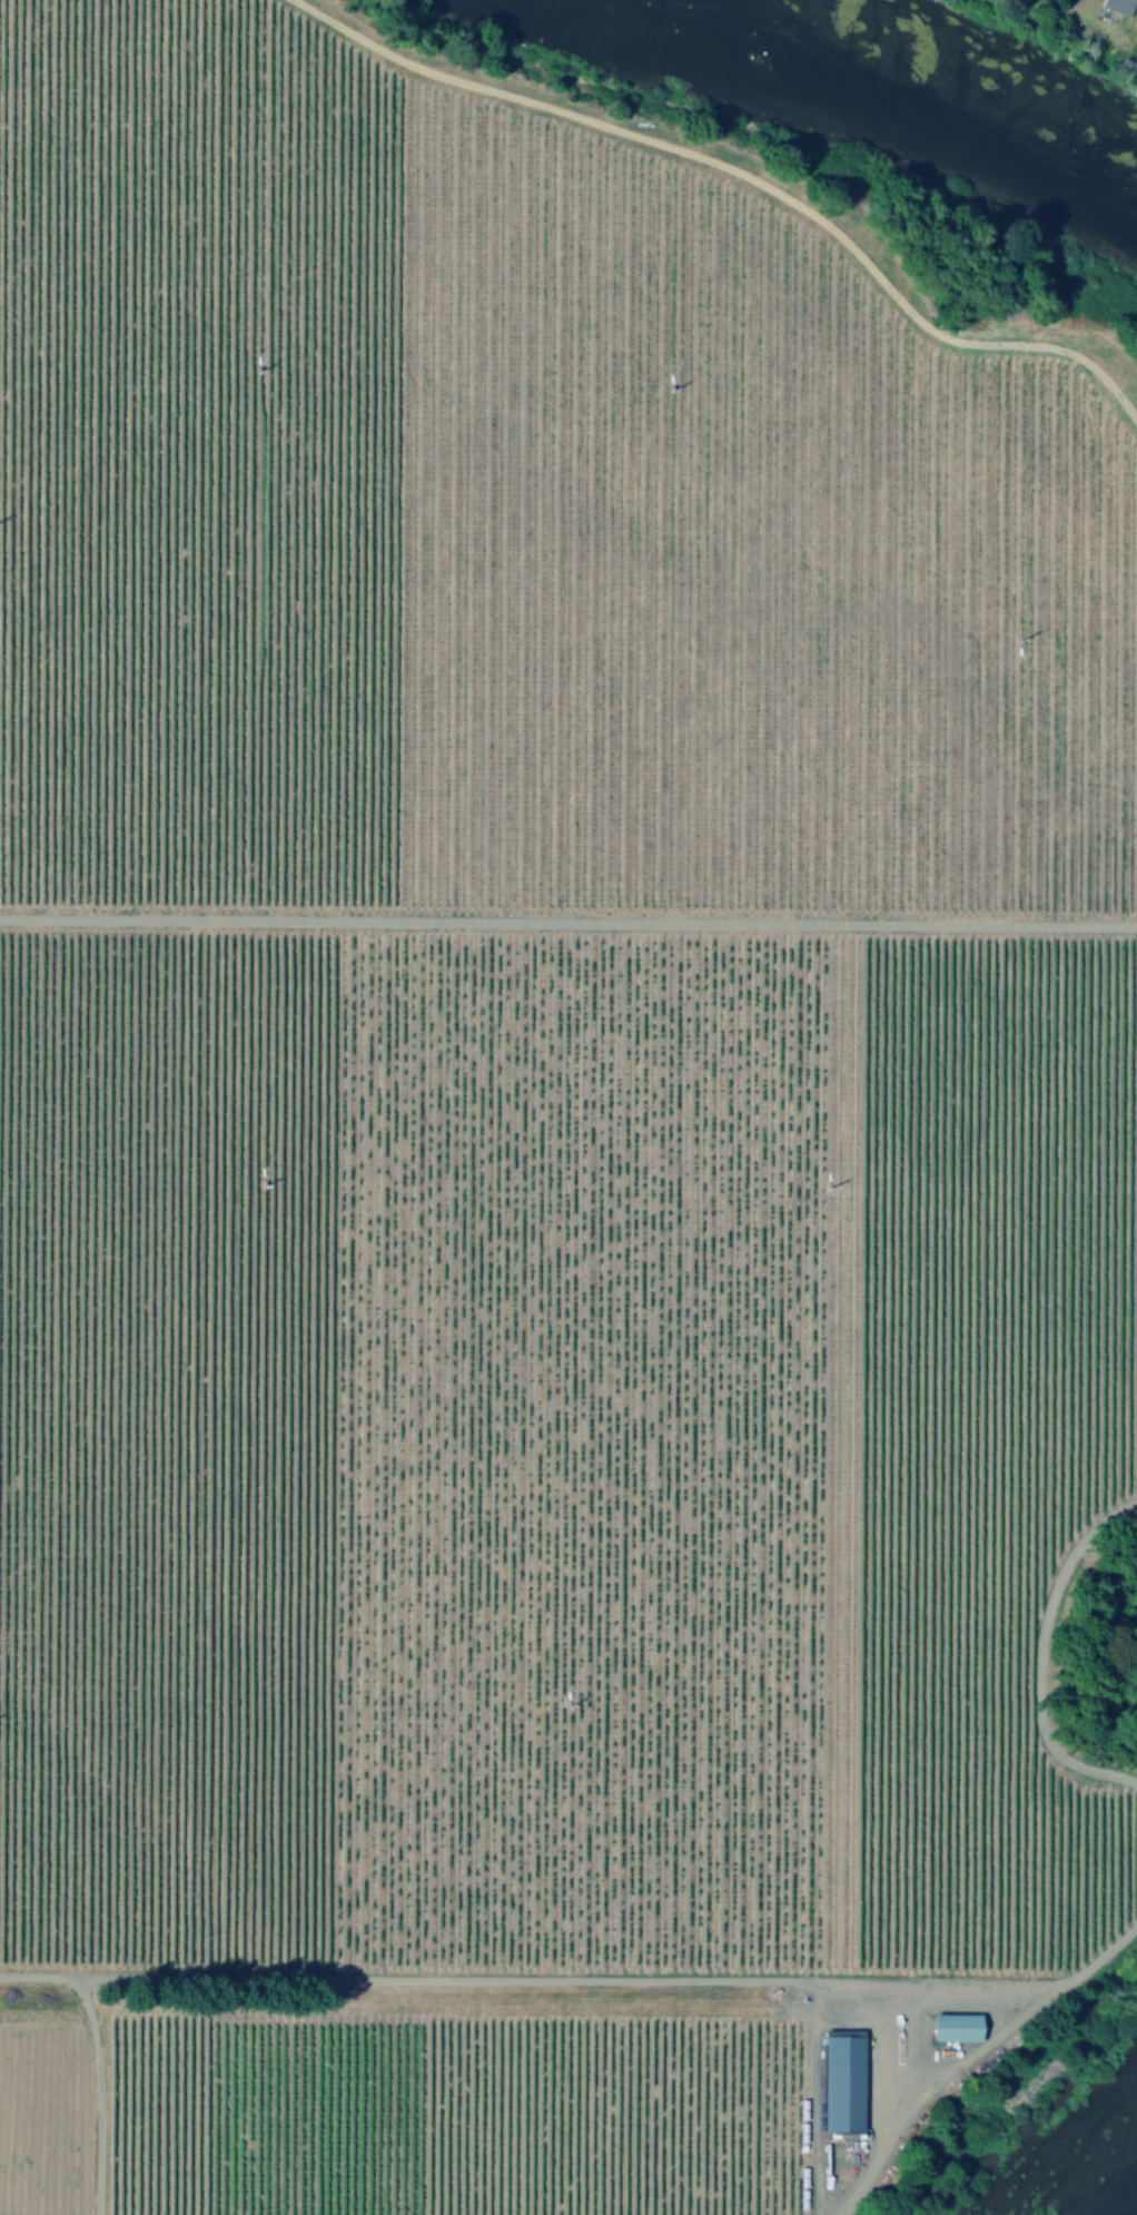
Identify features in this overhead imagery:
building: (1115, 7)
river: (907, 91)
road: (740, 177)
road: (568, 924)
road: (1036, 1658)
road: (562, 1975)
building: (952, 2027)
road: (976, 2054)
road: (91, 2063)
building: (840, 2081)
river: (1127, 2206)

